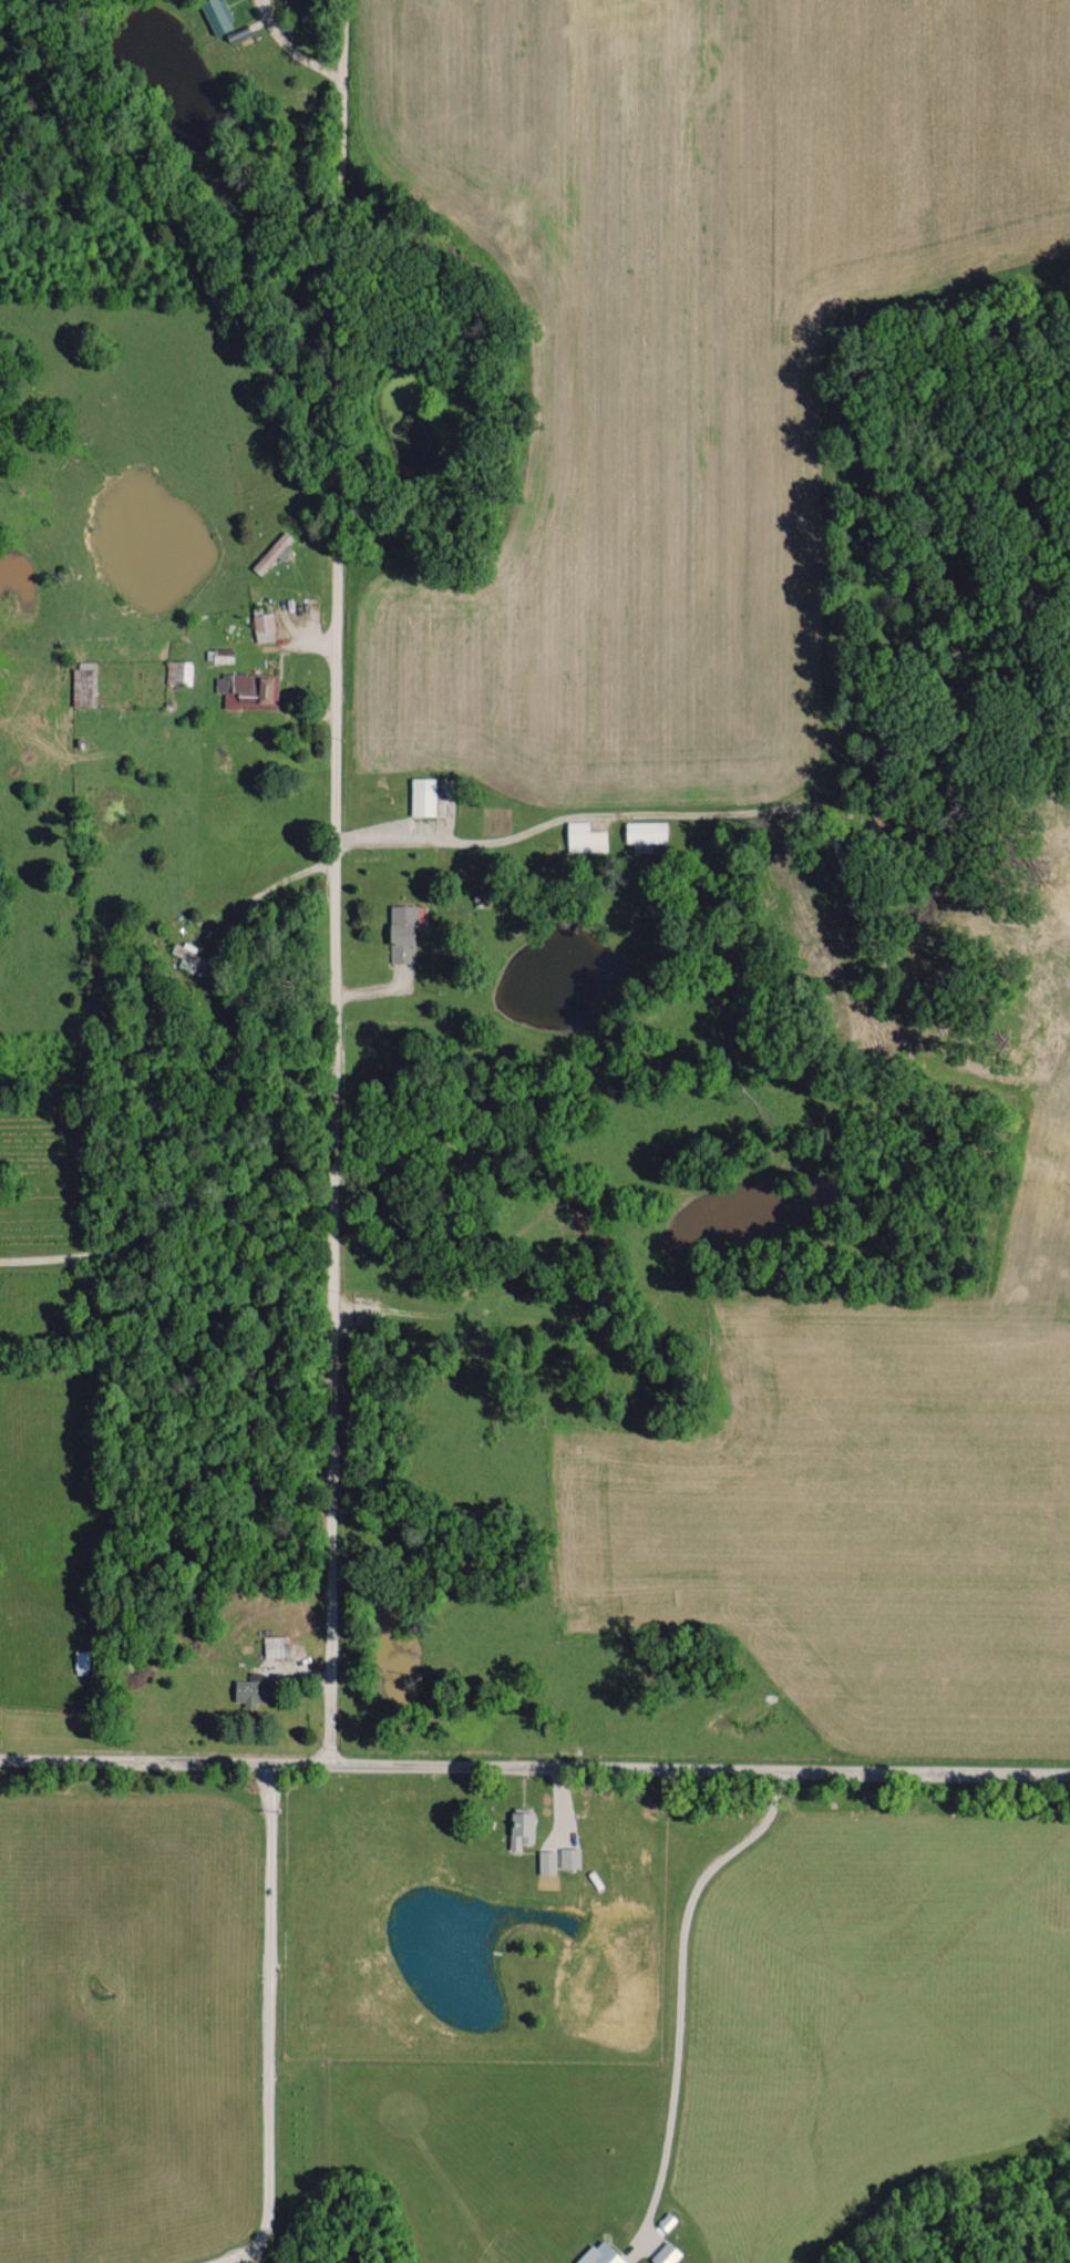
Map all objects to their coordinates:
building: (216, 14)
road: (292, 48)
building: (264, 626)
building: (178, 671)
building: (84, 682)
building: (248, 689)
building: (425, 798)
road: (544, 822)
building: (645, 834)
building: (585, 837)
road: (339, 882)
building: (402, 933)
road: (174, 1212)
building: (254, 1690)
road: (164, 1759)
road: (699, 1768)
building: (521, 1828)
building: (569, 1856)
building: (546, 1861)
road: (681, 1965)
road: (269, 2030)
building: (666, 2253)
building: (601, 2254)
road: (247, 2255)

